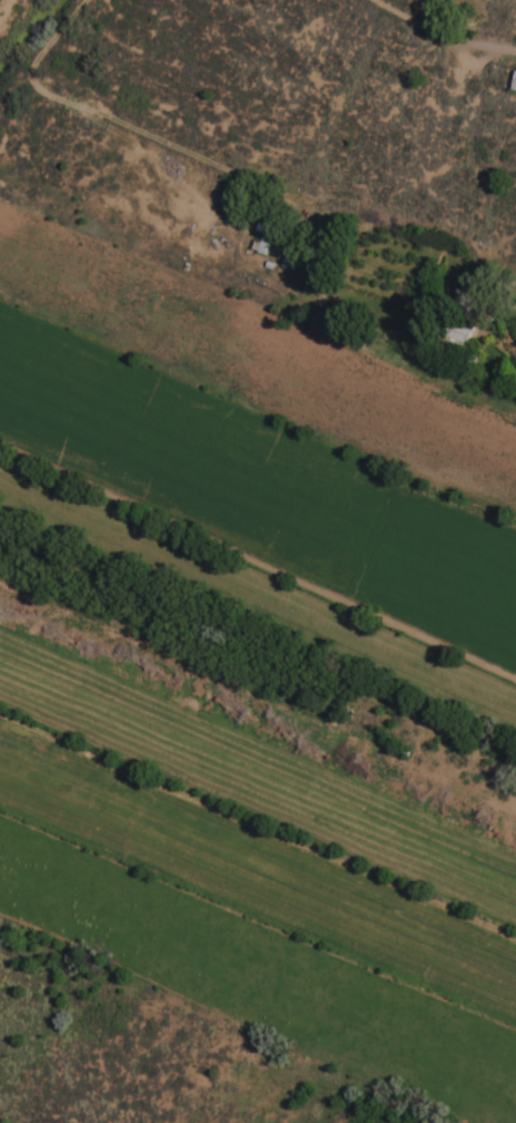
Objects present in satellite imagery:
road: (443, 32)
building: (514, 82)
road: (88, 113)
building: (232, 187)
building: (264, 236)
building: (460, 335)

